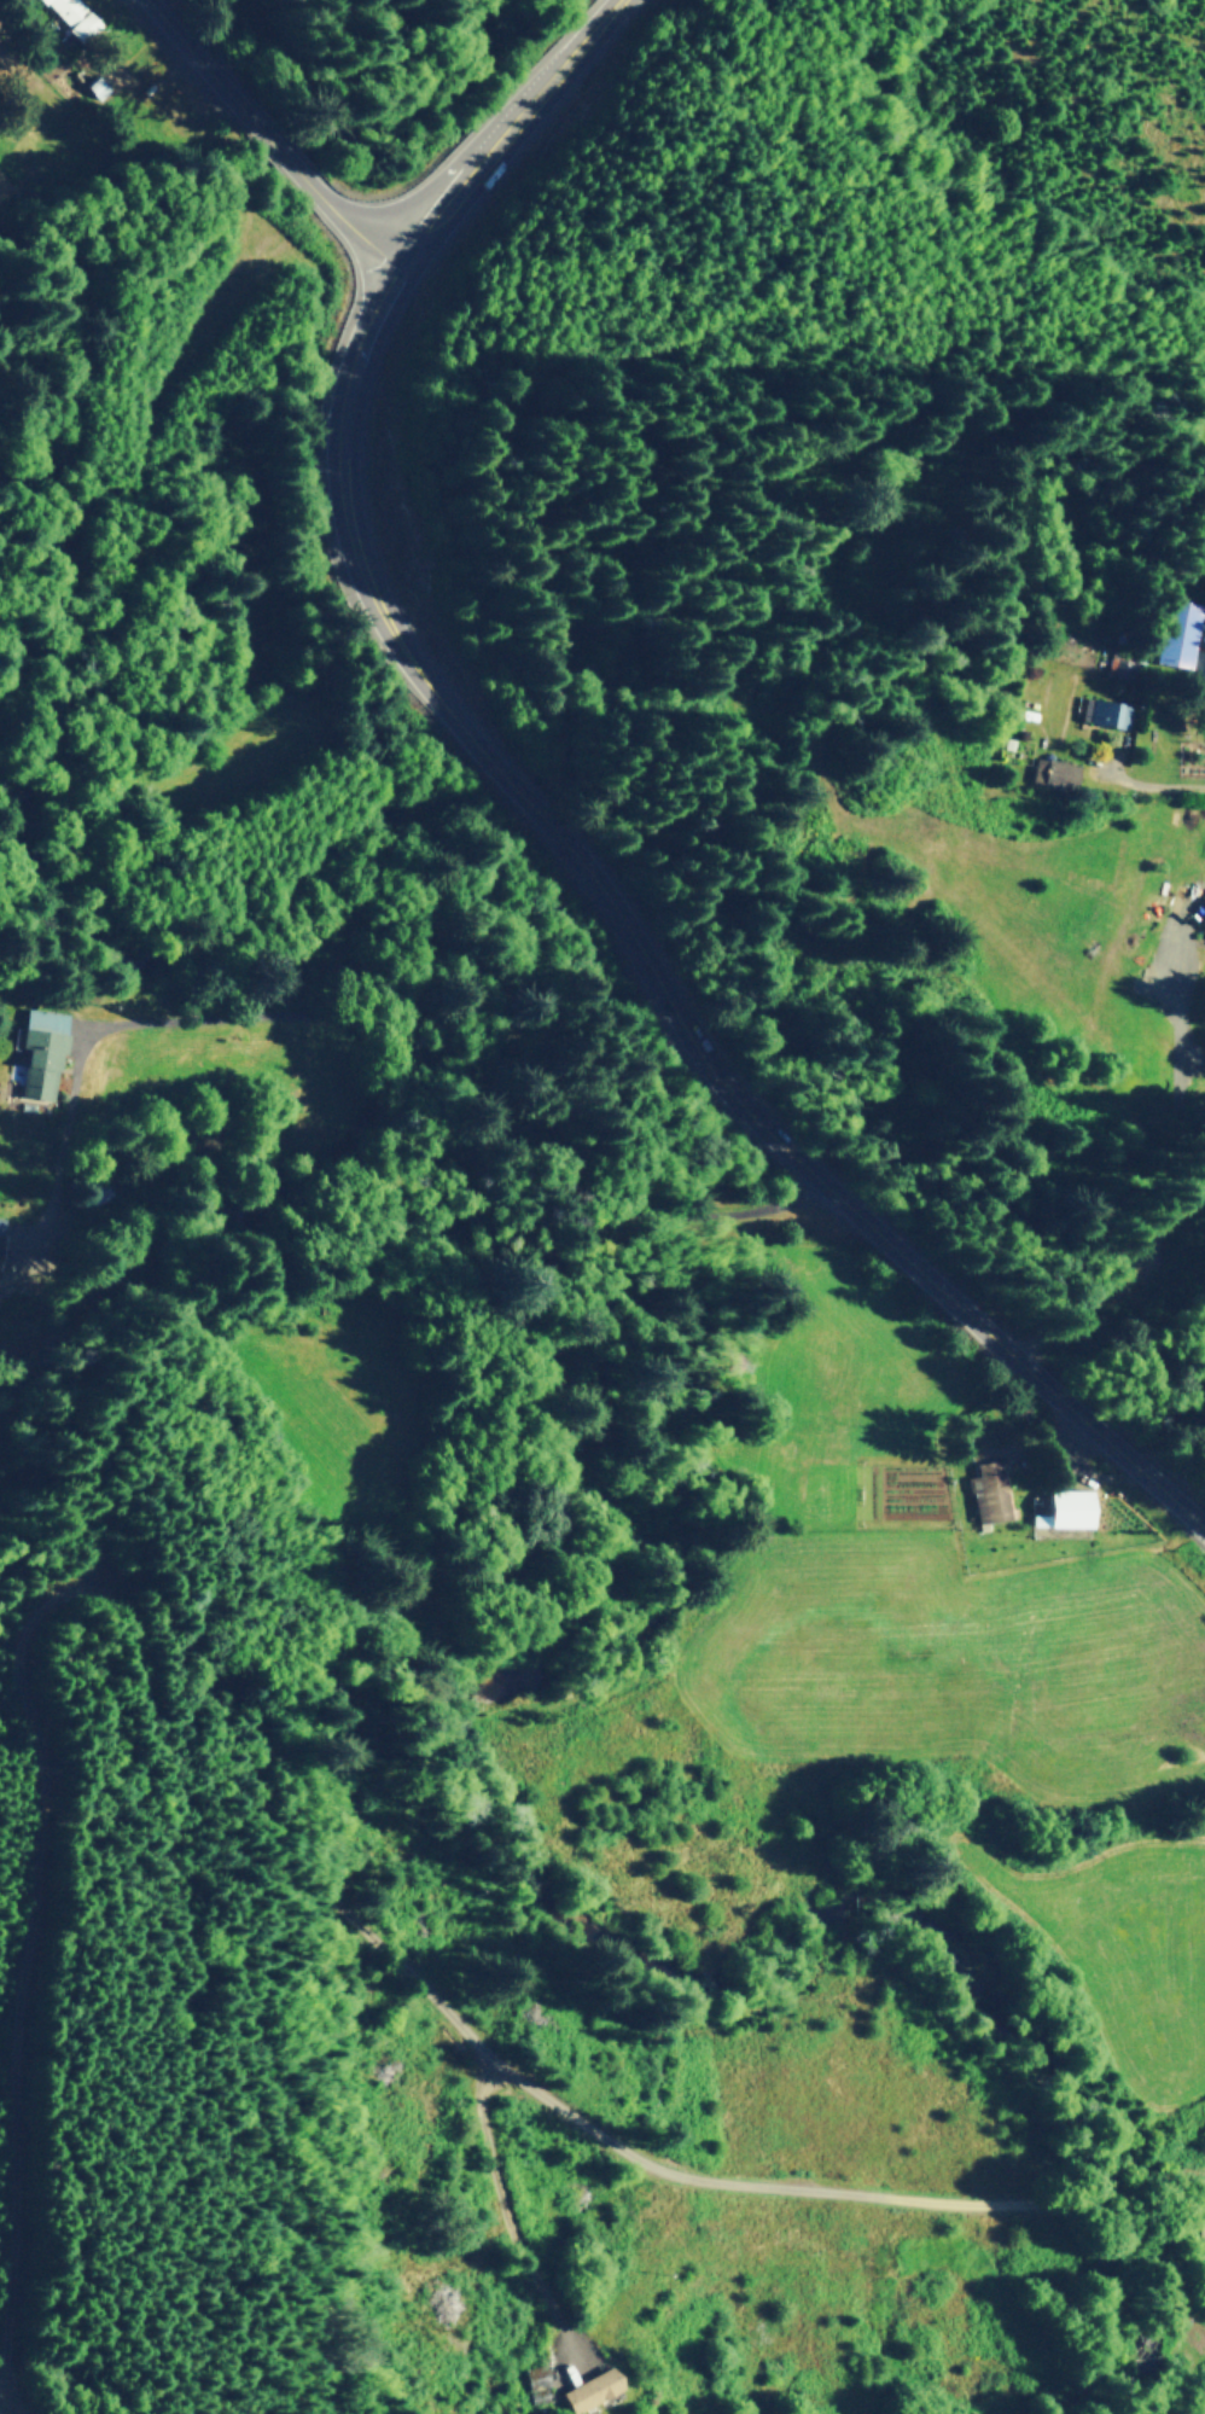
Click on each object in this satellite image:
building: (70, 16)
road: (503, 127)
road: (270, 133)
building: (1175, 632)
building: (1105, 712)
building: (1050, 772)
road: (640, 955)
road: (435, 1035)
building: (37, 1052)
building: (986, 1491)
building: (1061, 1510)
road: (788, 2191)
road: (505, 2197)
building: (589, 2389)

